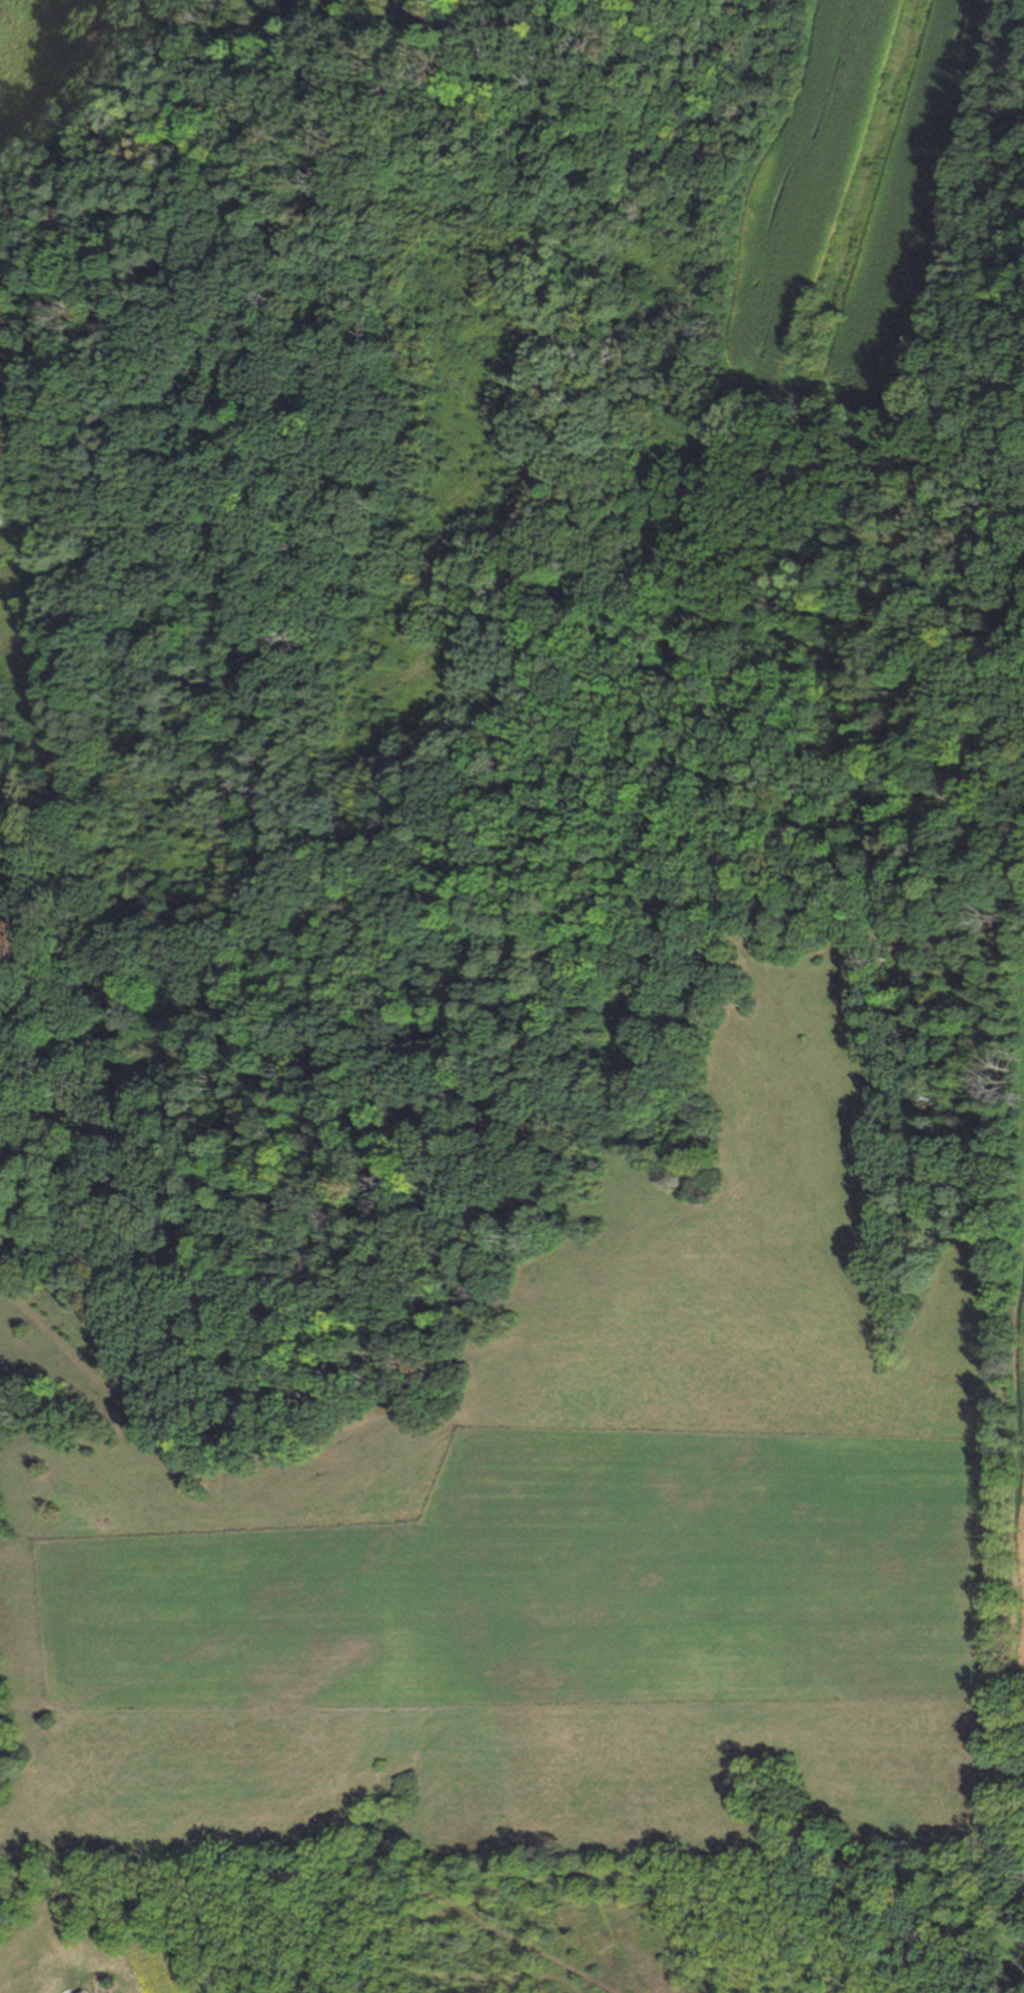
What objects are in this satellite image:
road: (996, 1932)
building: (83, 1991)

